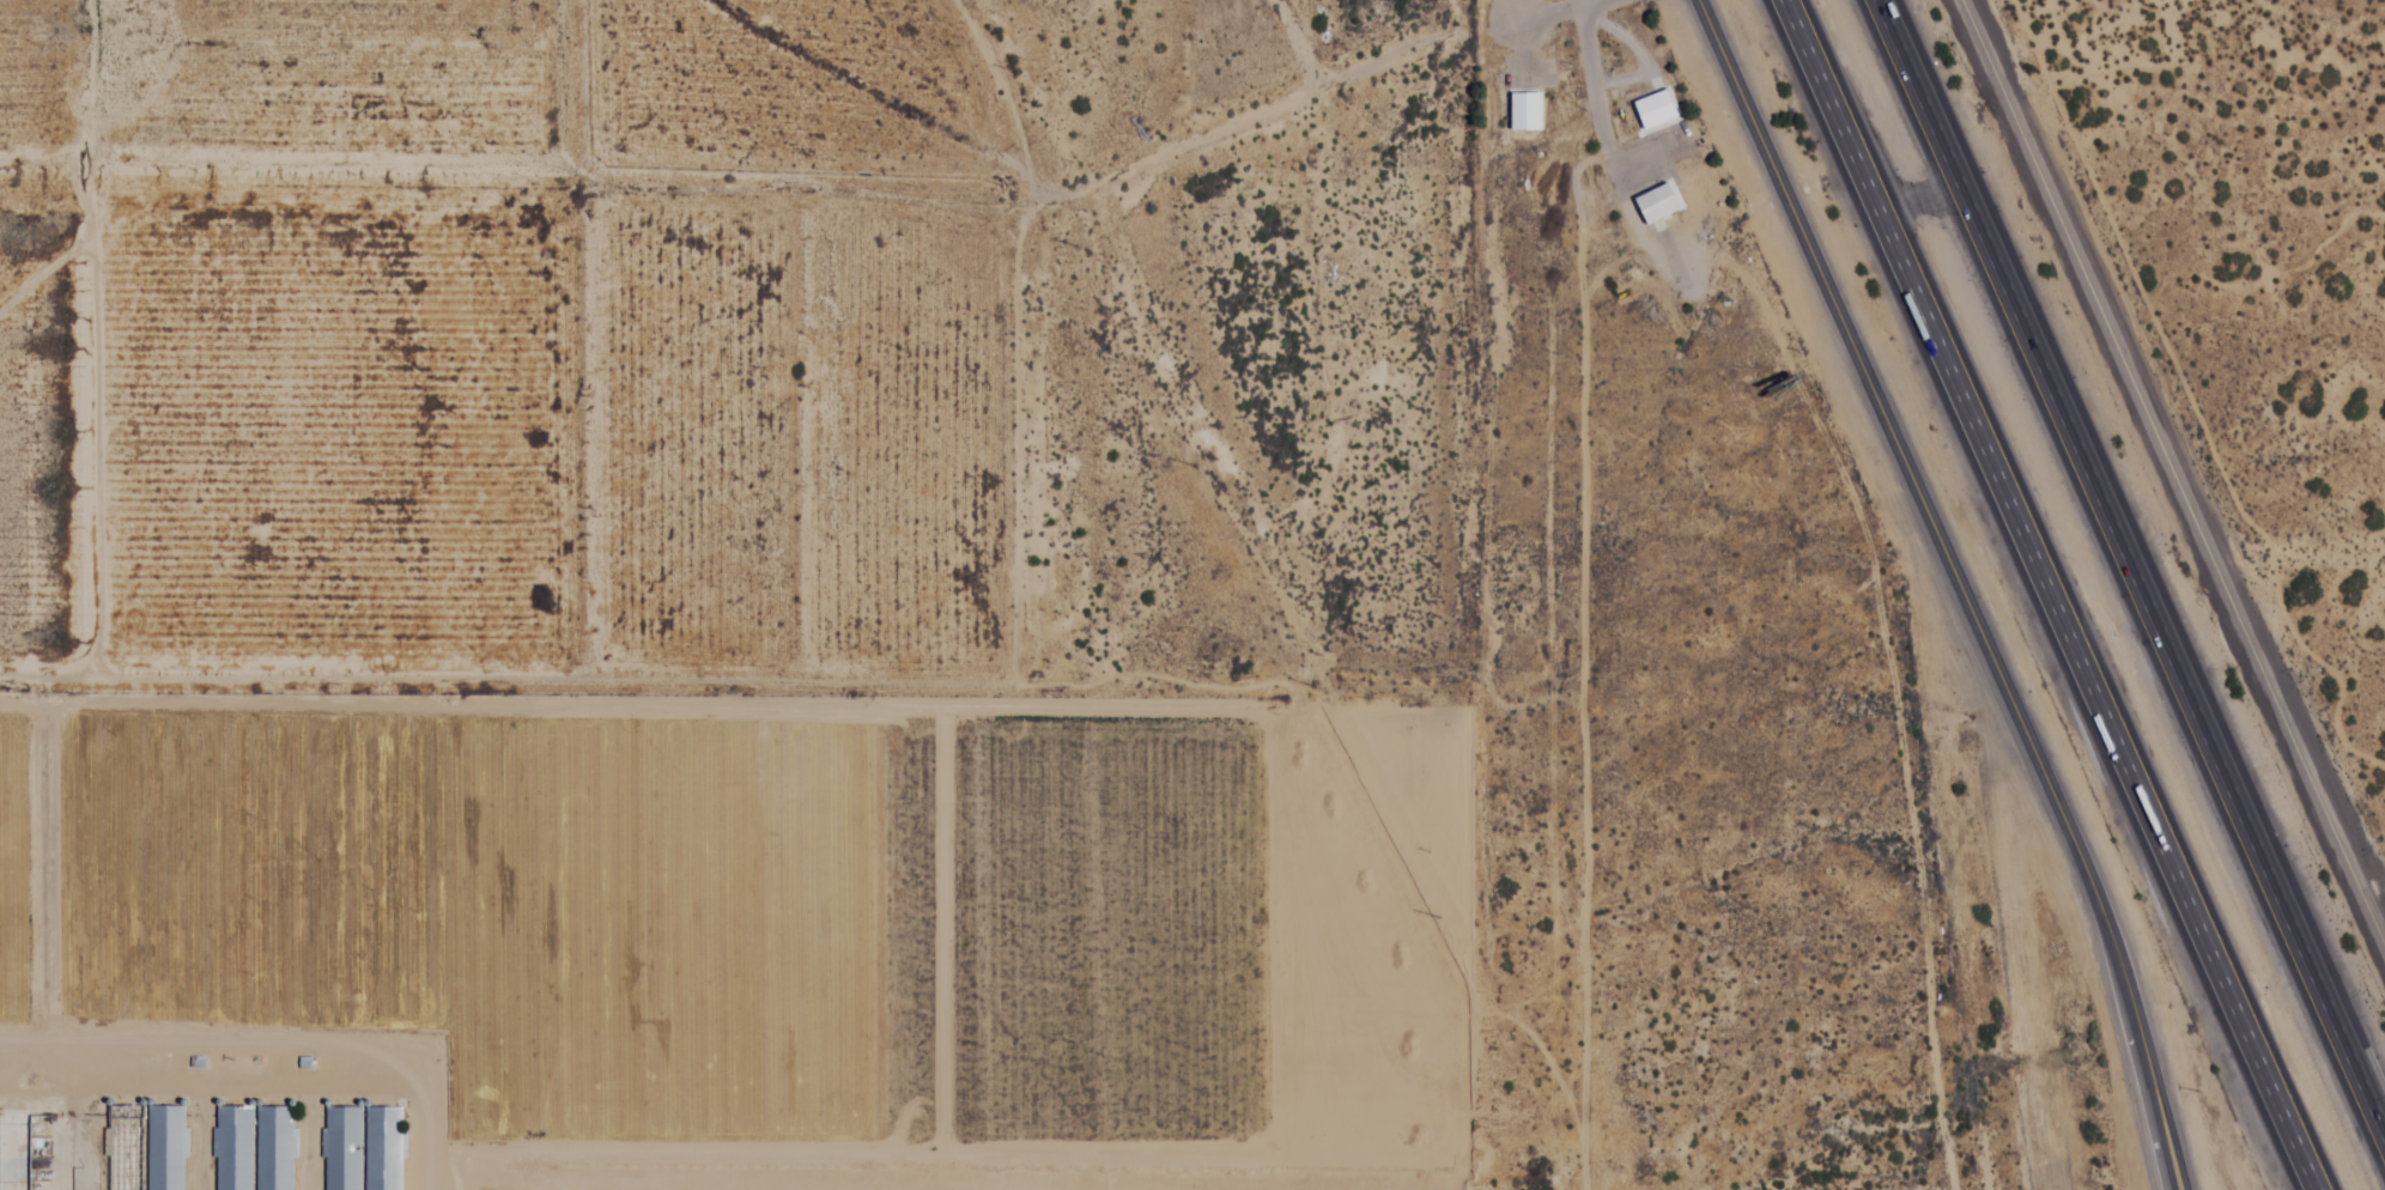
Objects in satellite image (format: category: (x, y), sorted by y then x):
road: (1560, 17)
road: (1644, 56)
road: (1272, 110)
road: (1644, 153)
road: (1608, 158)
building: (1656, 205)
road: (96, 377)
road: (2174, 473)
road: (2129, 575)
road: (1958, 585)
road: (2052, 594)
road: (1254, 812)
road: (45, 858)
crop: (18, 863)
crop: (521, 904)
road: (1373, 954)
road: (1192, 1001)
road: (254, 1045)
building: (254, 1149)
building: (28, 1150)
building: (145, 1150)
building: (362, 1150)
road: (425, 1174)

